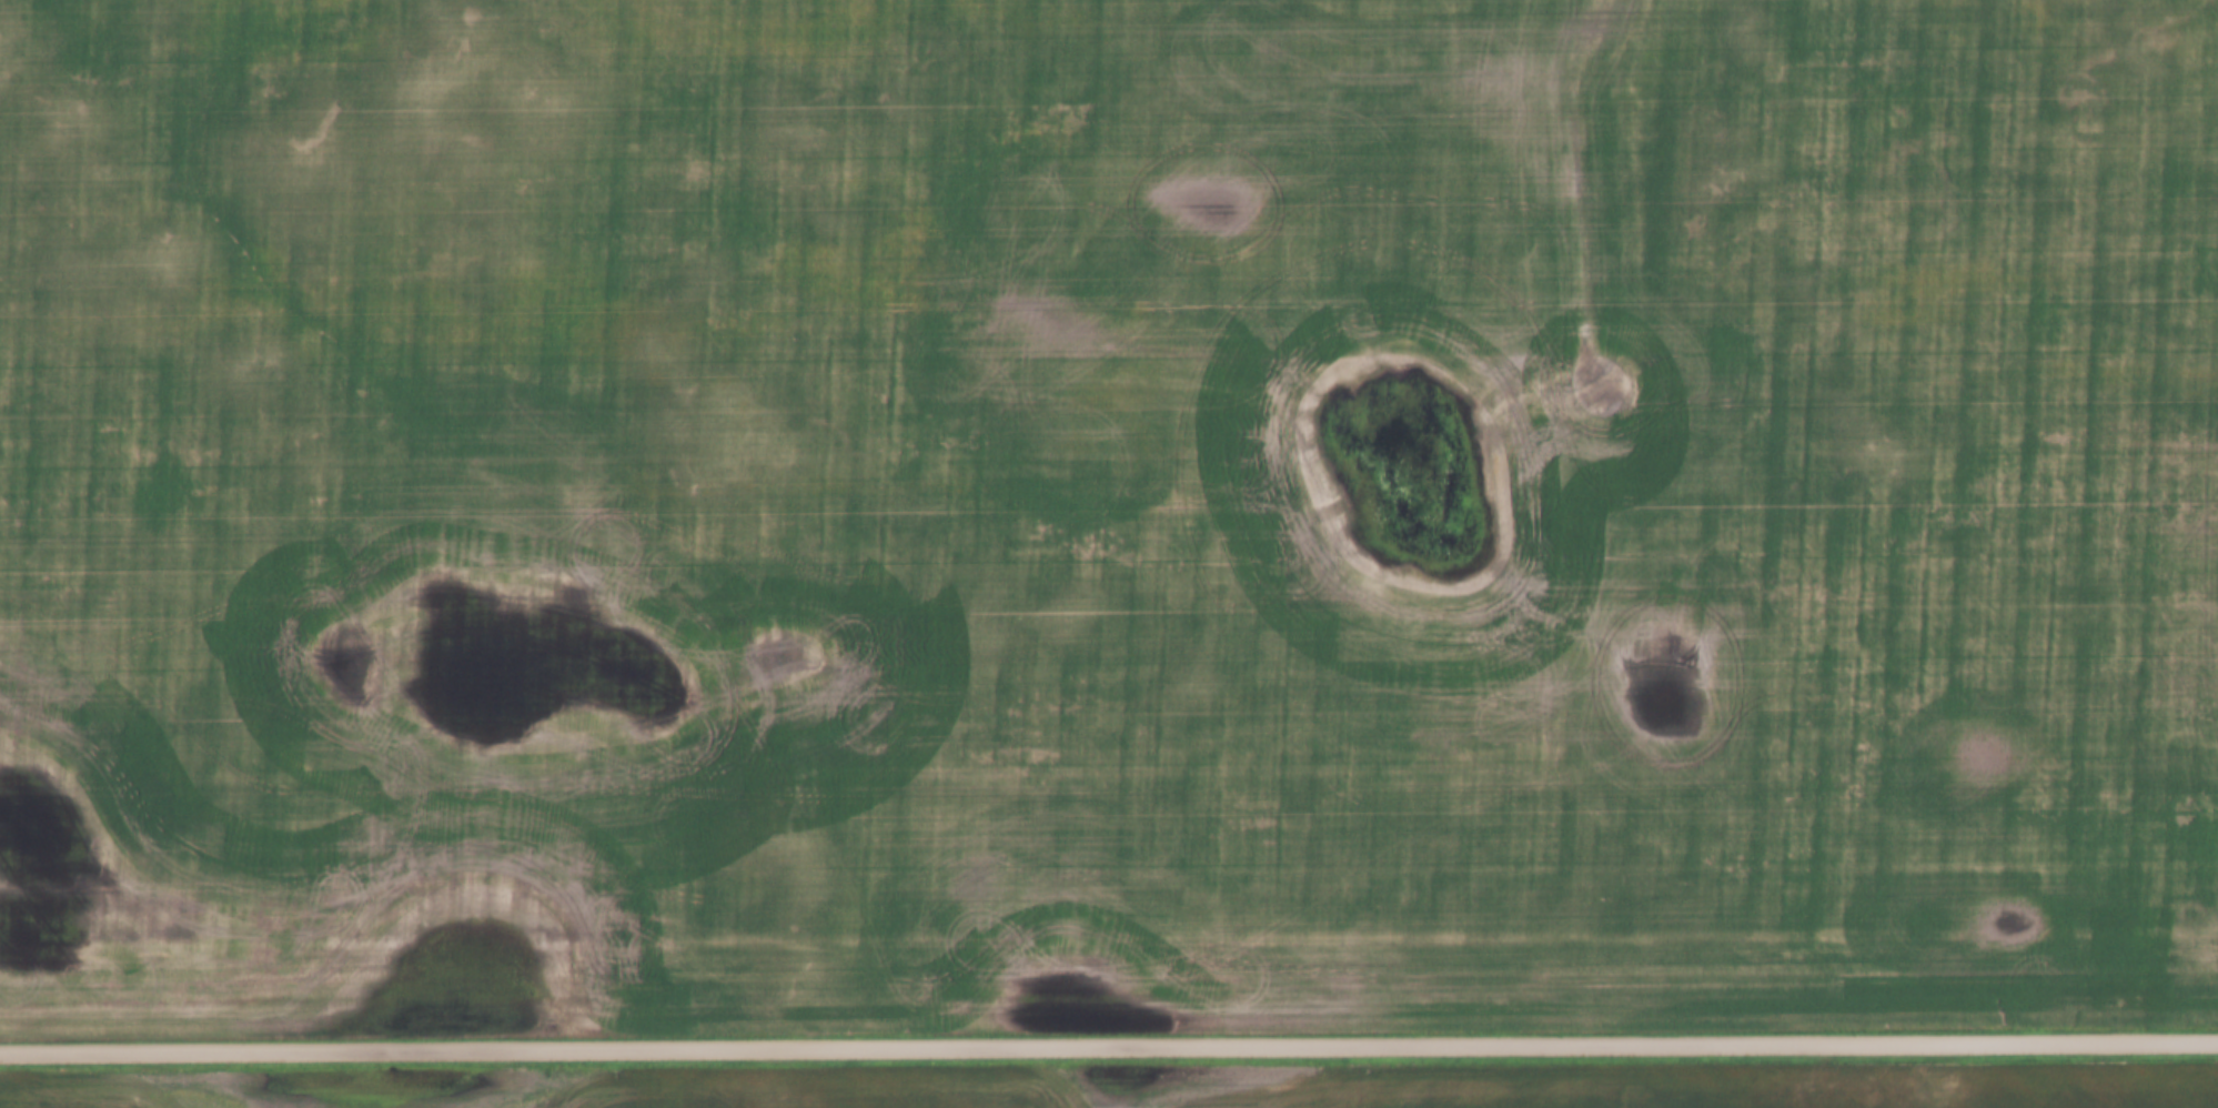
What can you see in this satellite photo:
road: (1108, 1046)

